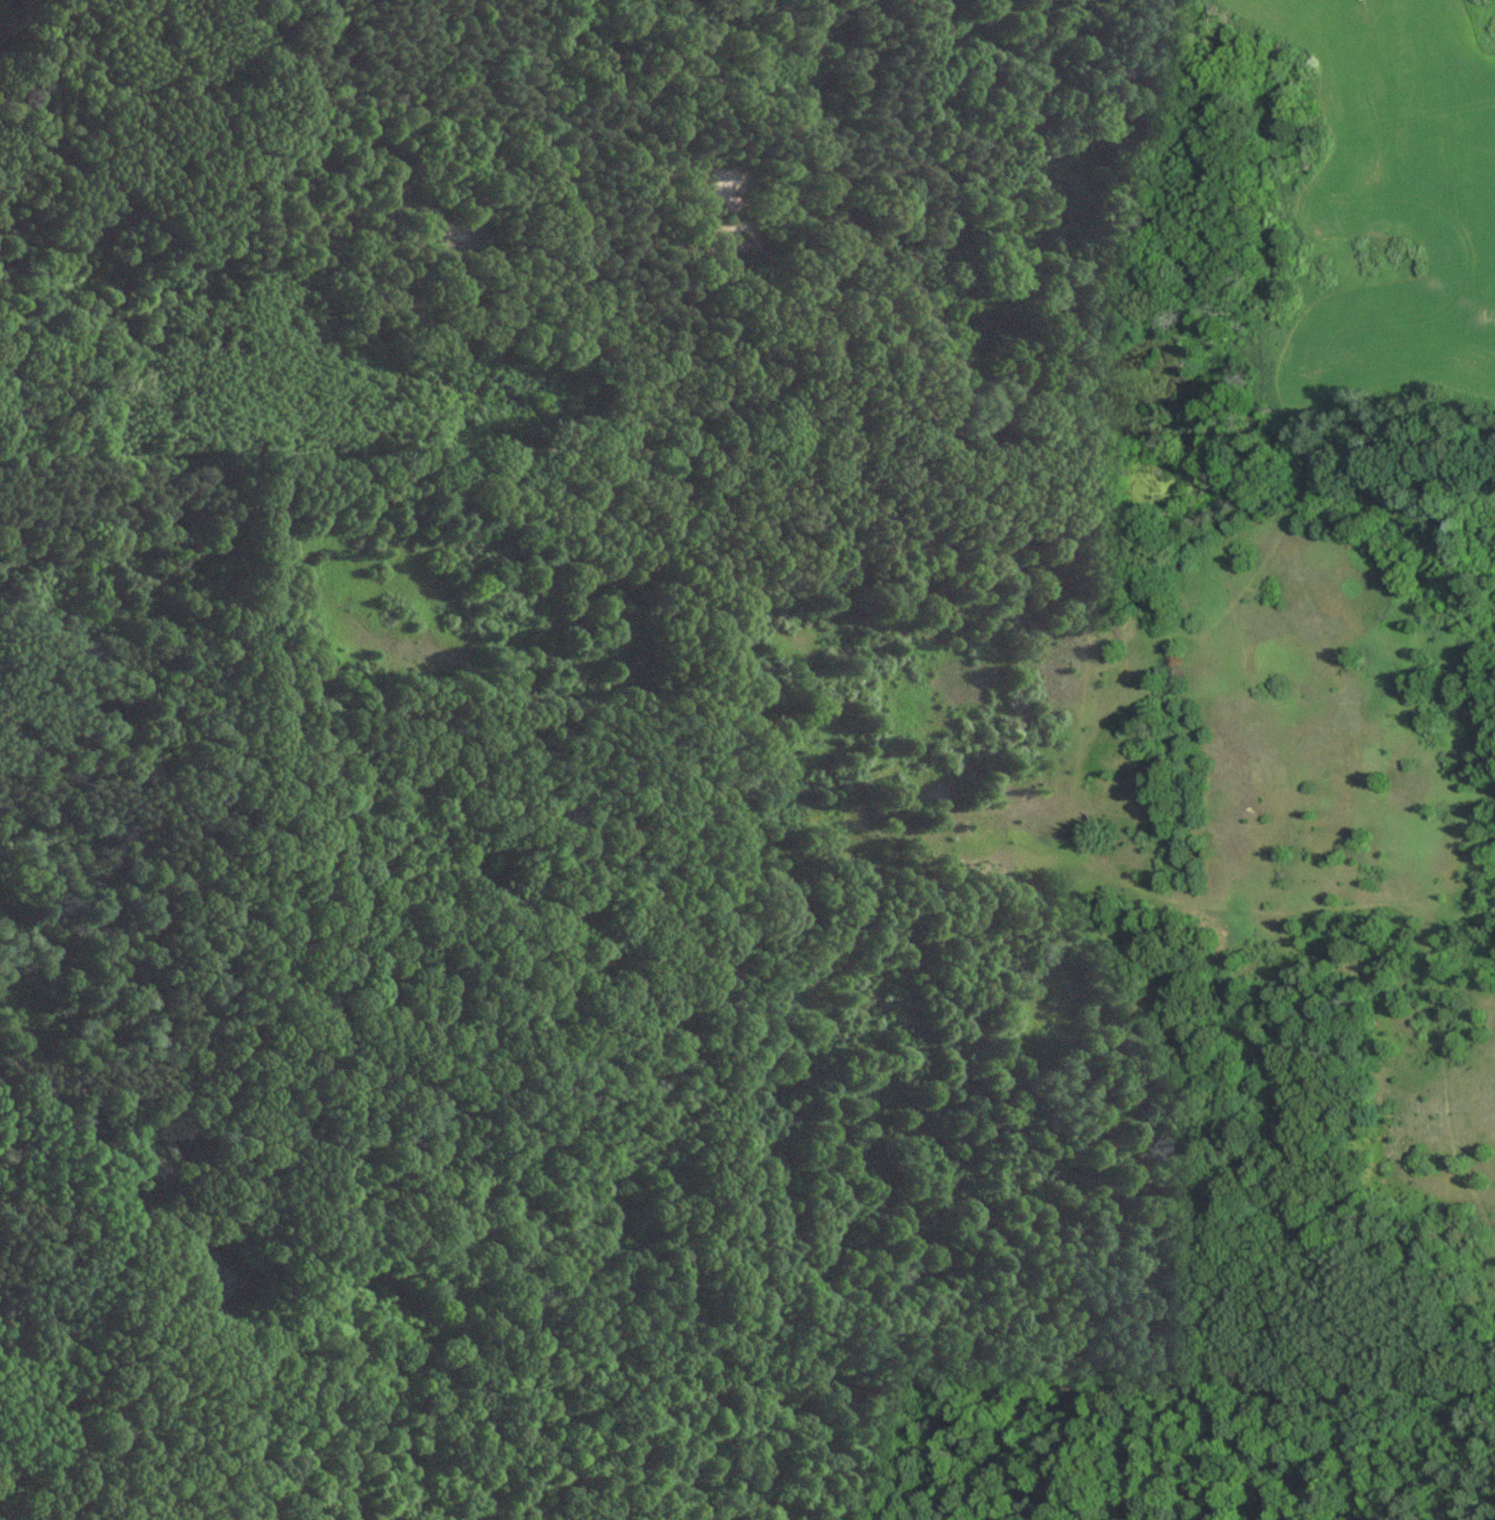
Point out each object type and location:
crop: (1396, 200)
road: (934, 239)
road: (493, 448)
road: (1241, 451)

